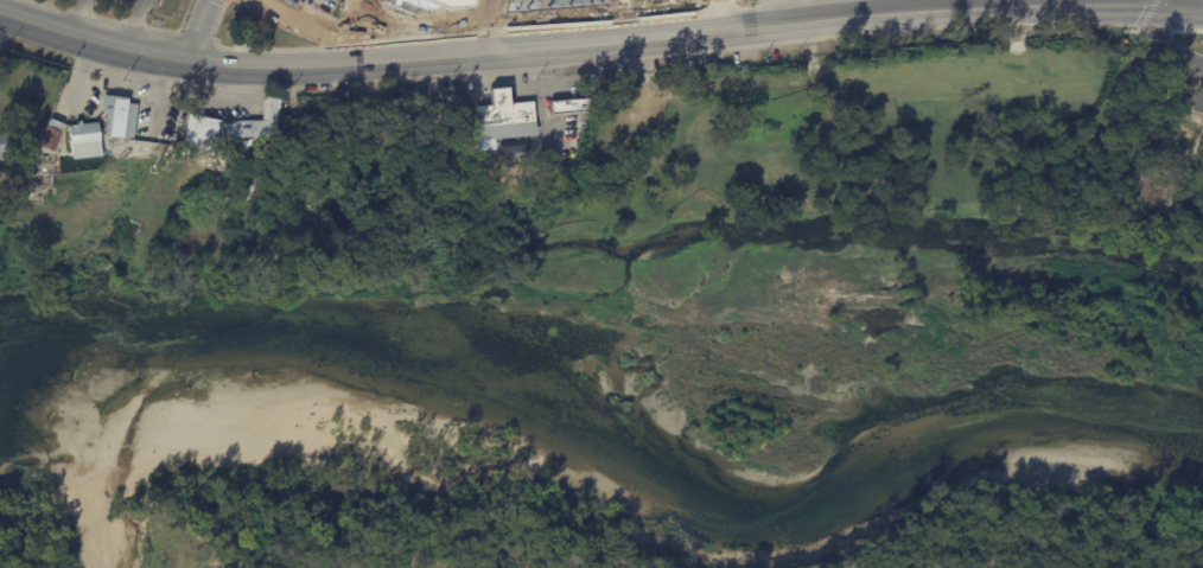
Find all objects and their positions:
building: (376, 1)
road: (131, 2)
building: (543, 4)
road: (1176, 4)
building: (424, 5)
road: (970, 5)
traffic signals: (1175, 7)
road: (1189, 8)
road: (822, 9)
road: (75, 17)
road: (132, 23)
road: (200, 30)
road: (681, 34)
road: (1159, 38)
road: (94, 39)
building: (1182, 92)
building: (562, 104)
building: (495, 109)
building: (412, 115)
building: (120, 117)
building: (358, 125)
building: (225, 126)
building: (312, 126)
building: (50, 134)
building: (82, 139)
building: (244, 145)
building: (5, 146)
river: (606, 430)
park: (581, 517)
road: (281, 566)

